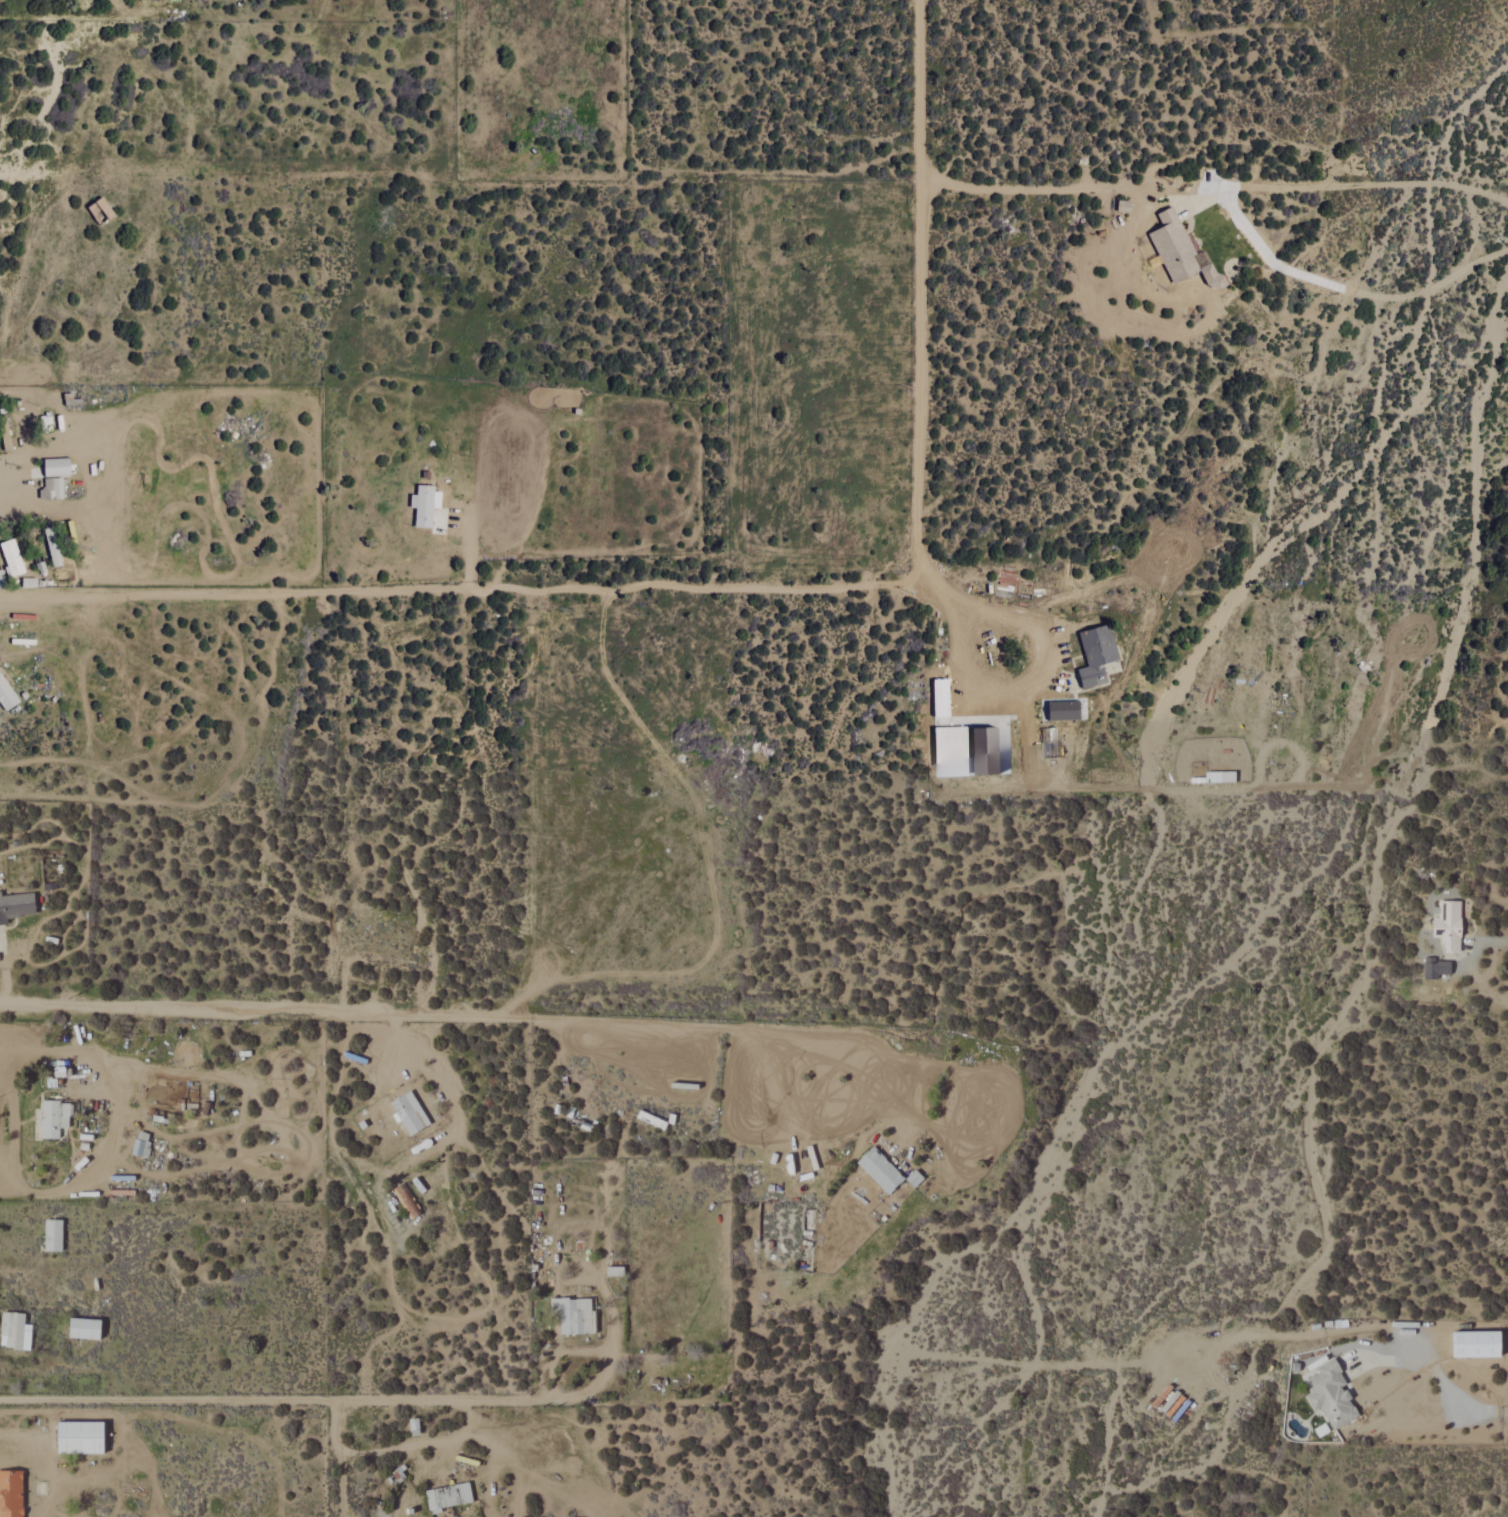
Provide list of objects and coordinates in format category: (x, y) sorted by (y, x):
road: (918, 91)
road: (11, 172)
road: (1343, 185)
road: (1048, 191)
building: (1124, 207)
road: (1348, 289)
road: (920, 383)
road: (33, 456)
building: (57, 468)
building: (52, 489)
building: (425, 506)
road: (469, 542)
building: (53, 546)
building: (12, 557)
building: (1, 579)
road: (461, 590)
building: (1097, 655)
road: (1009, 694)
building: (7, 695)
building: (1064, 711)
building: (952, 751)
building: (986, 751)
building: (16, 906)
building: (1449, 925)
building: (1436, 969)
road: (1, 974)
road: (261, 1011)
road: (702, 1026)
building: (62, 1072)
road: (438, 1088)
building: (409, 1113)
building: (54, 1119)
road: (110, 1122)
building: (141, 1144)
building: (881, 1171)
building: (407, 1201)
building: (53, 1236)
building: (615, 1272)
road: (588, 1274)
building: (574, 1315)
building: (85, 1329)
building: (15, 1332)
building: (1478, 1345)
road: (587, 1351)
road: (1450, 1388)
building: (1331, 1395)
road: (287, 1398)
road: (480, 1426)
building: (414, 1427)
building: (1322, 1431)
building: (80, 1438)
road: (411, 1445)
road: (340, 1457)
road: (485, 1482)
road: (519, 1484)
building: (10, 1494)
building: (449, 1497)

